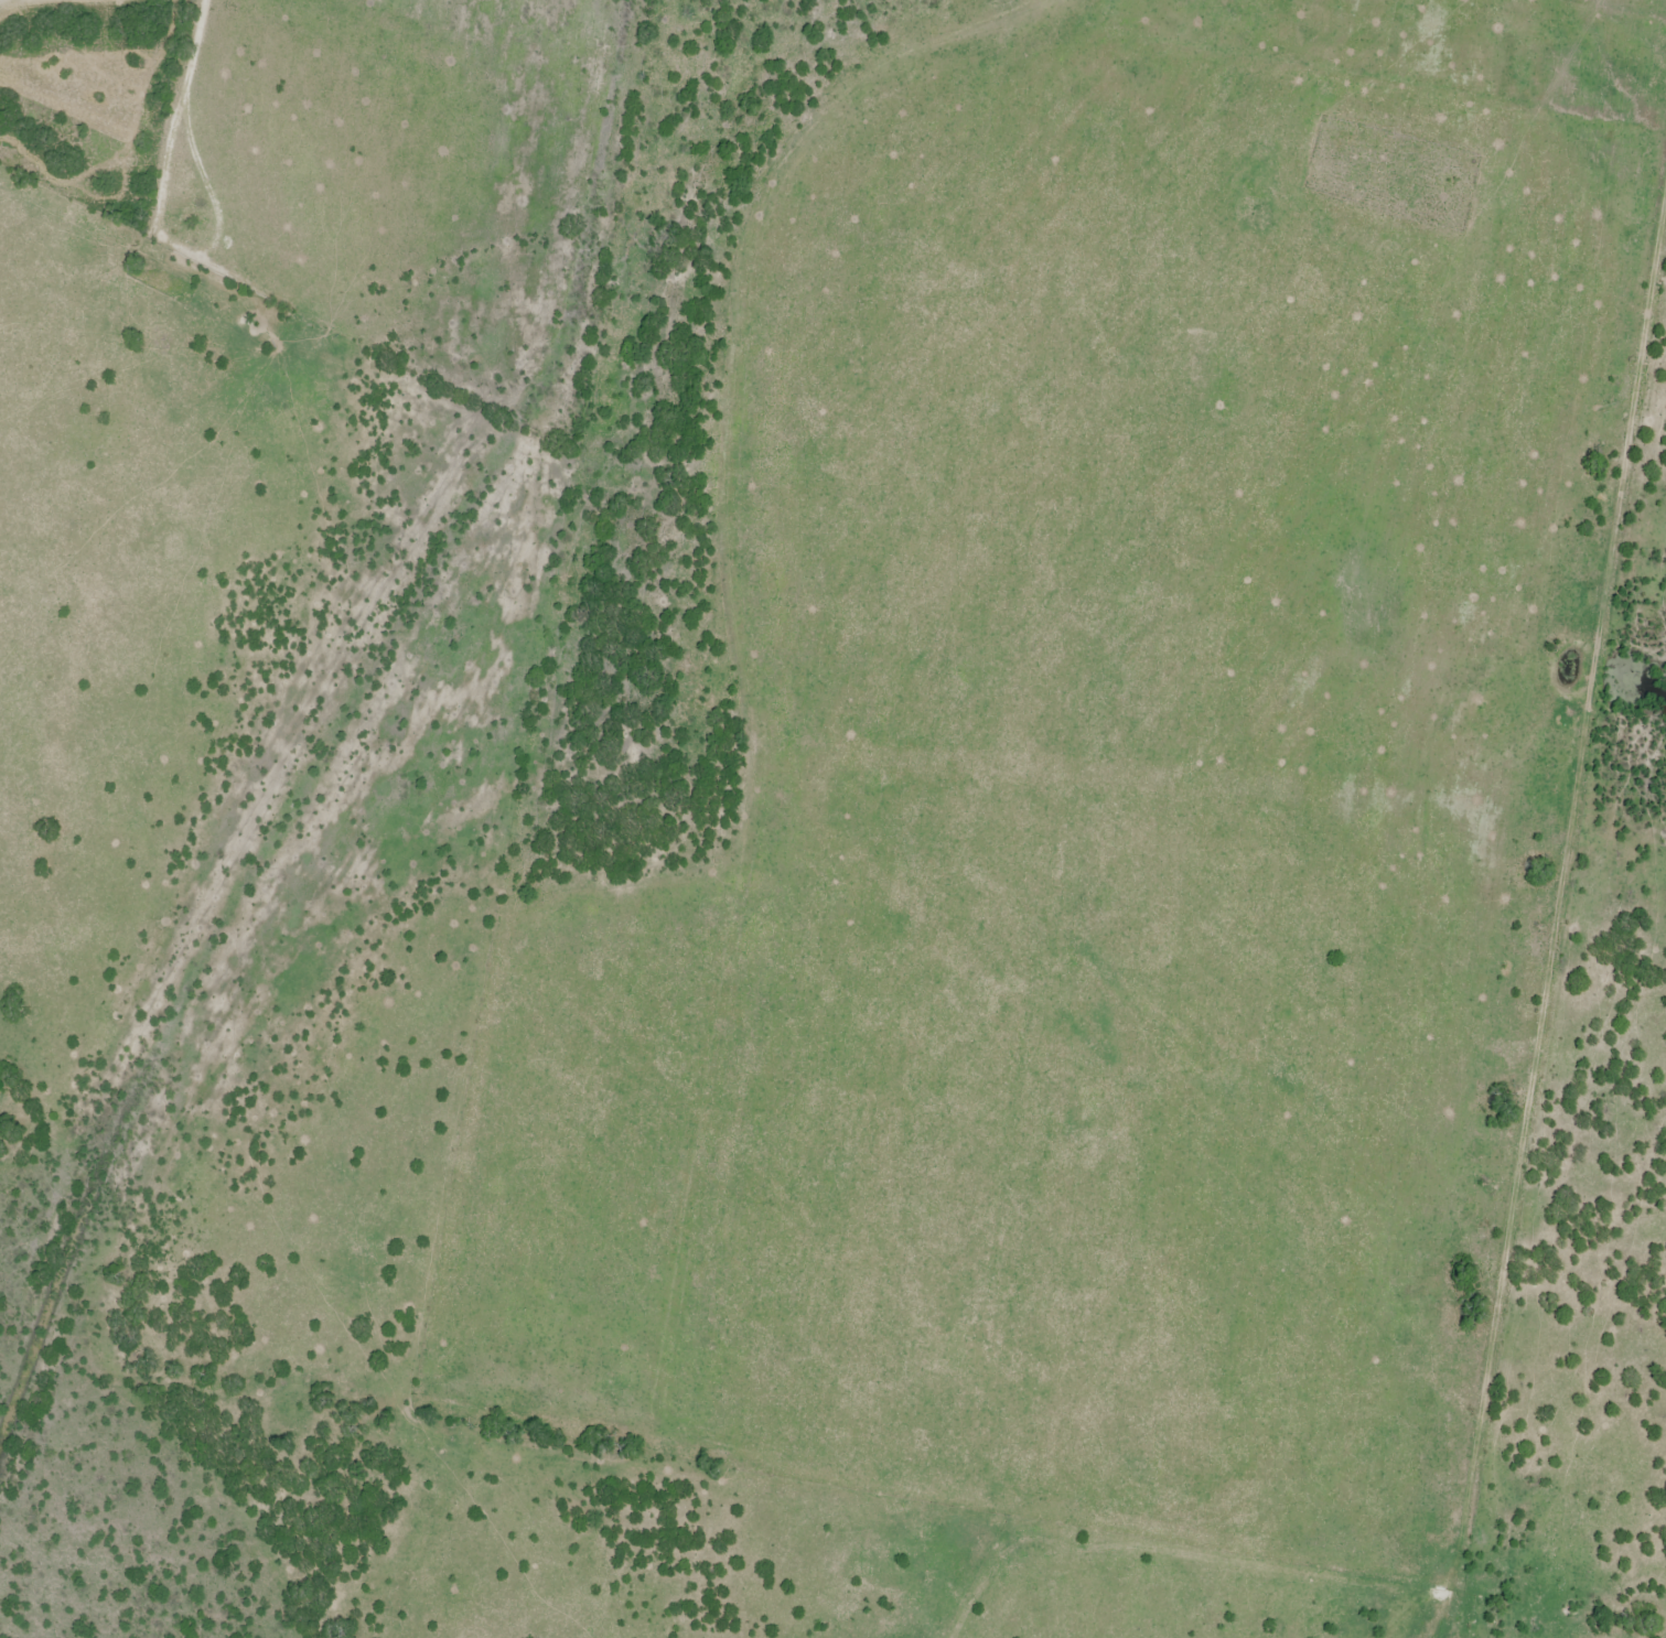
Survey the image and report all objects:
road: (2, 0)

